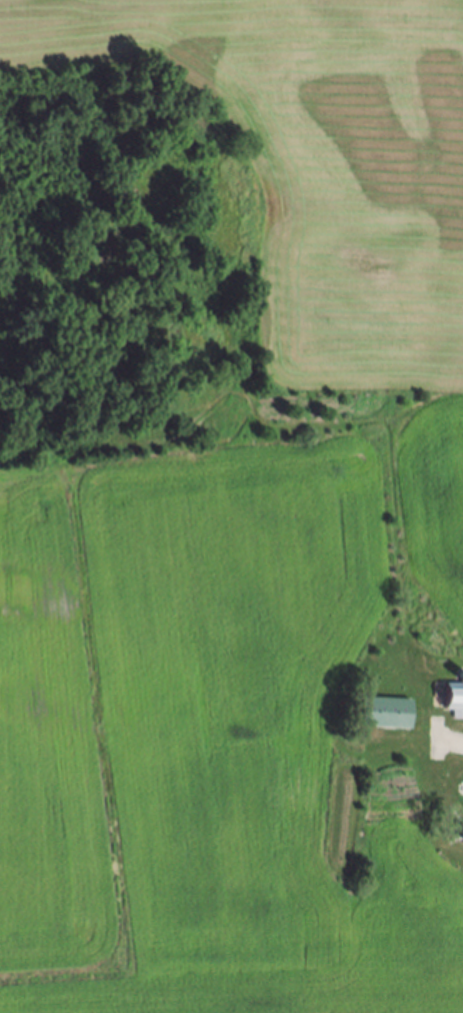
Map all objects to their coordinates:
crop: (250, 559)
building: (462, 679)
building: (455, 703)
building: (386, 715)
road: (452, 740)

